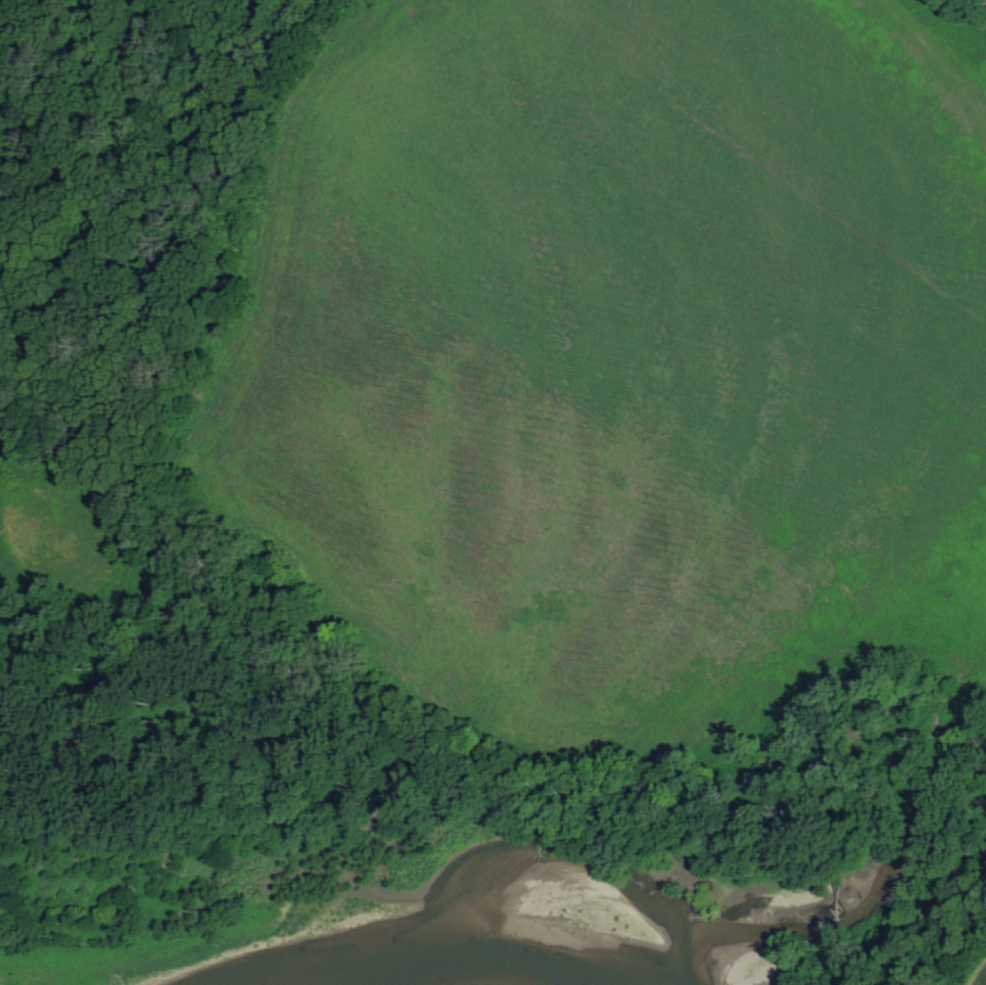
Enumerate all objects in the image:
river: (869, 896)
river: (528, 919)

